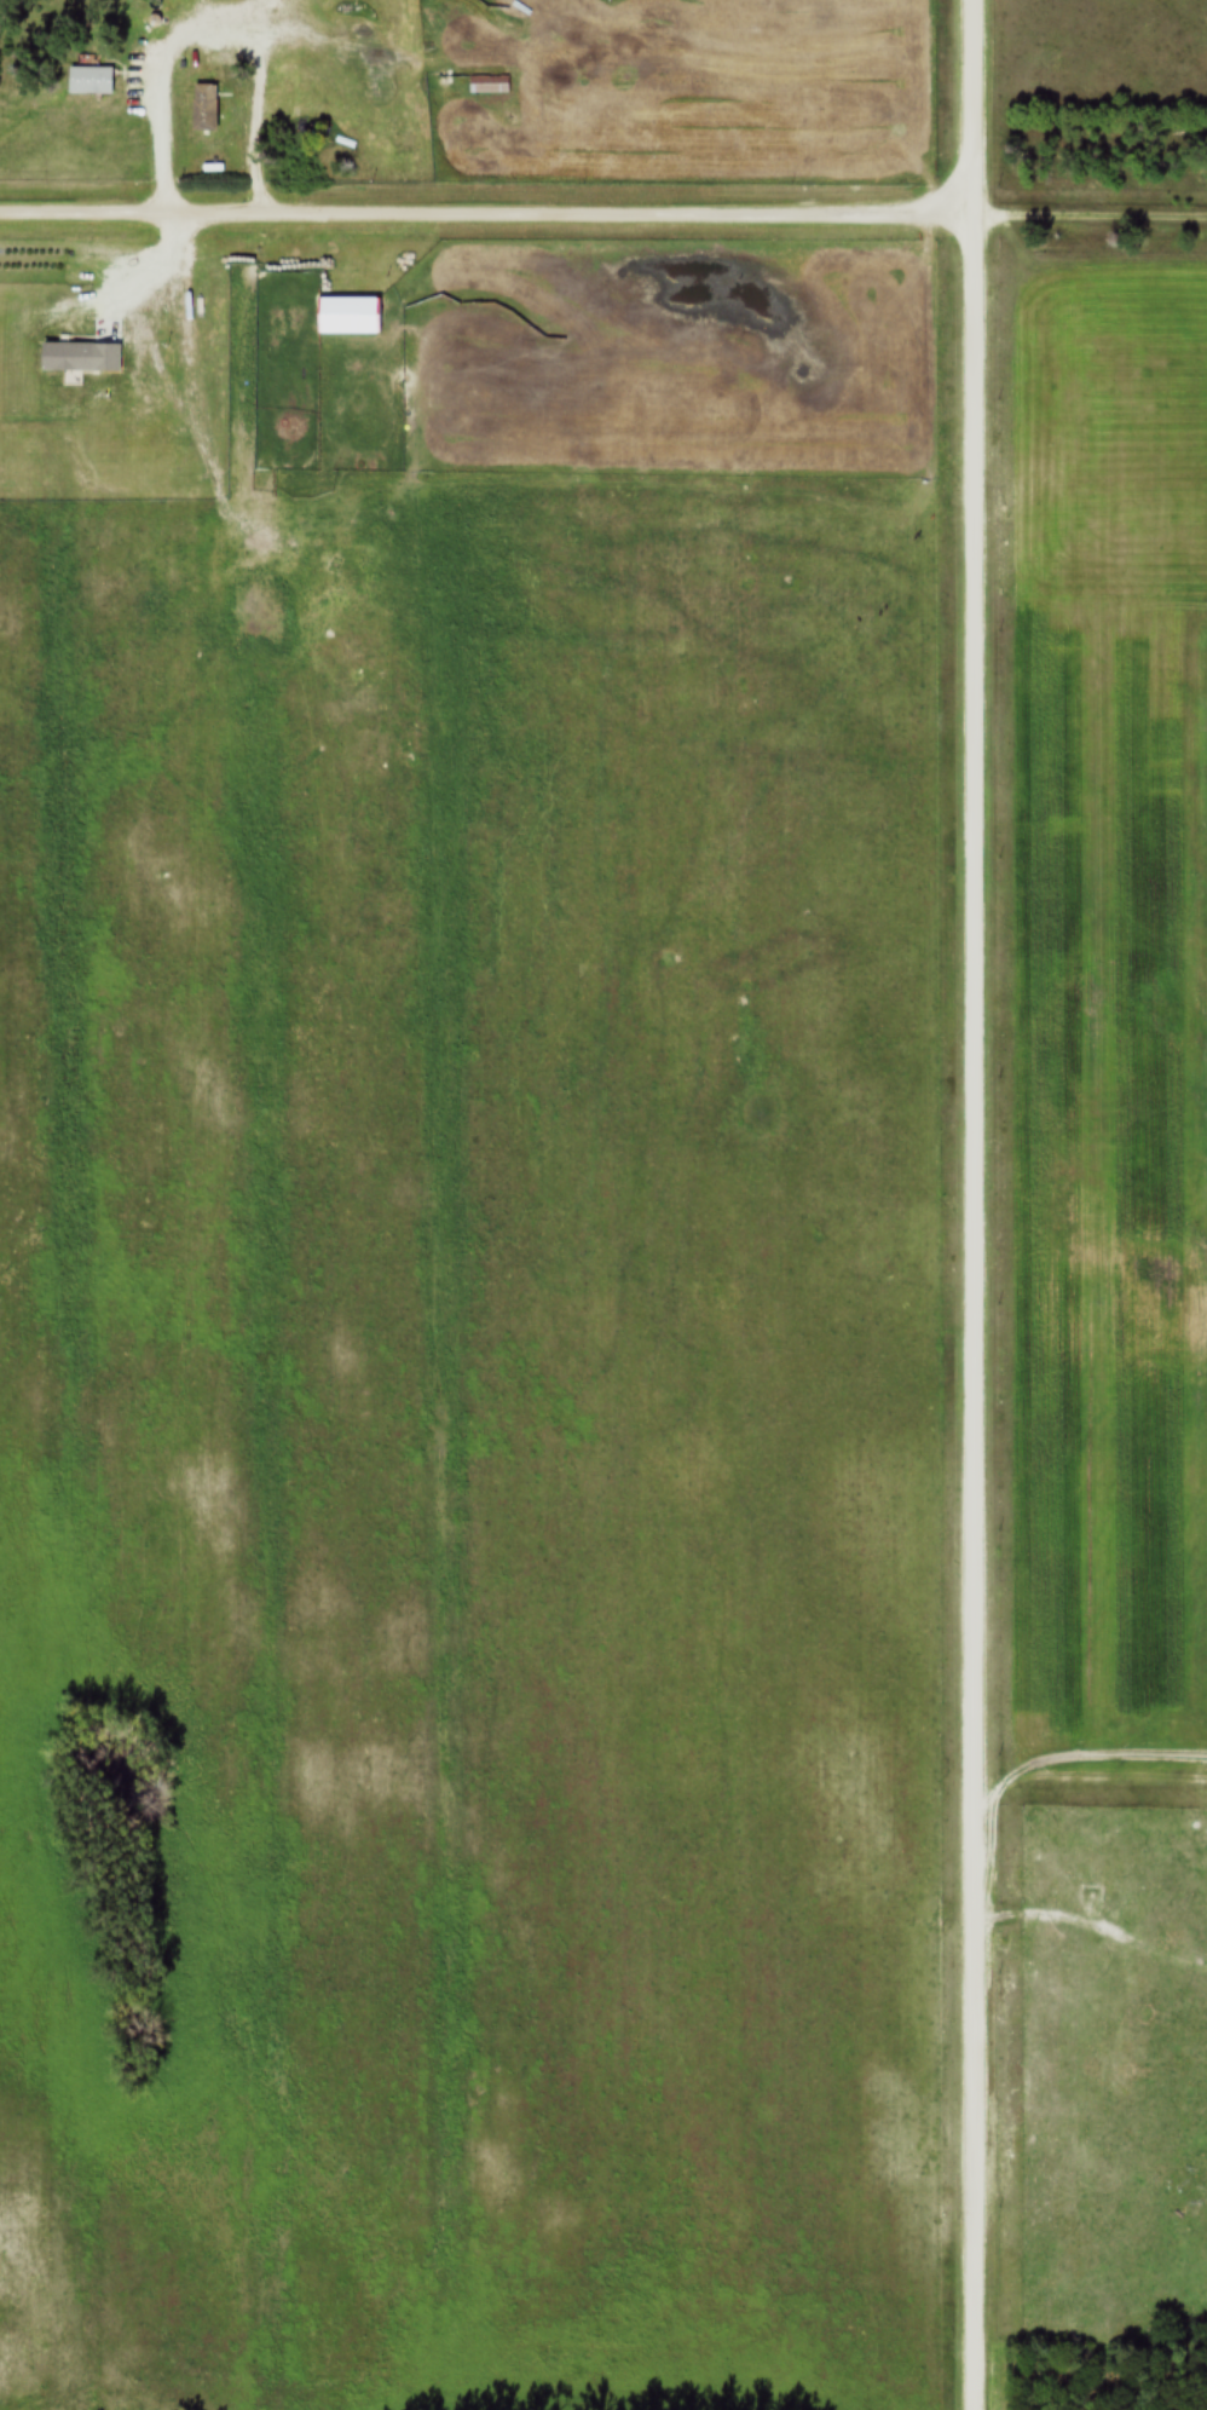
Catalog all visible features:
road: (213, 22)
building: (91, 81)
building: (489, 83)
building: (204, 108)
road: (484, 213)
road: (1087, 215)
road: (971, 1205)

